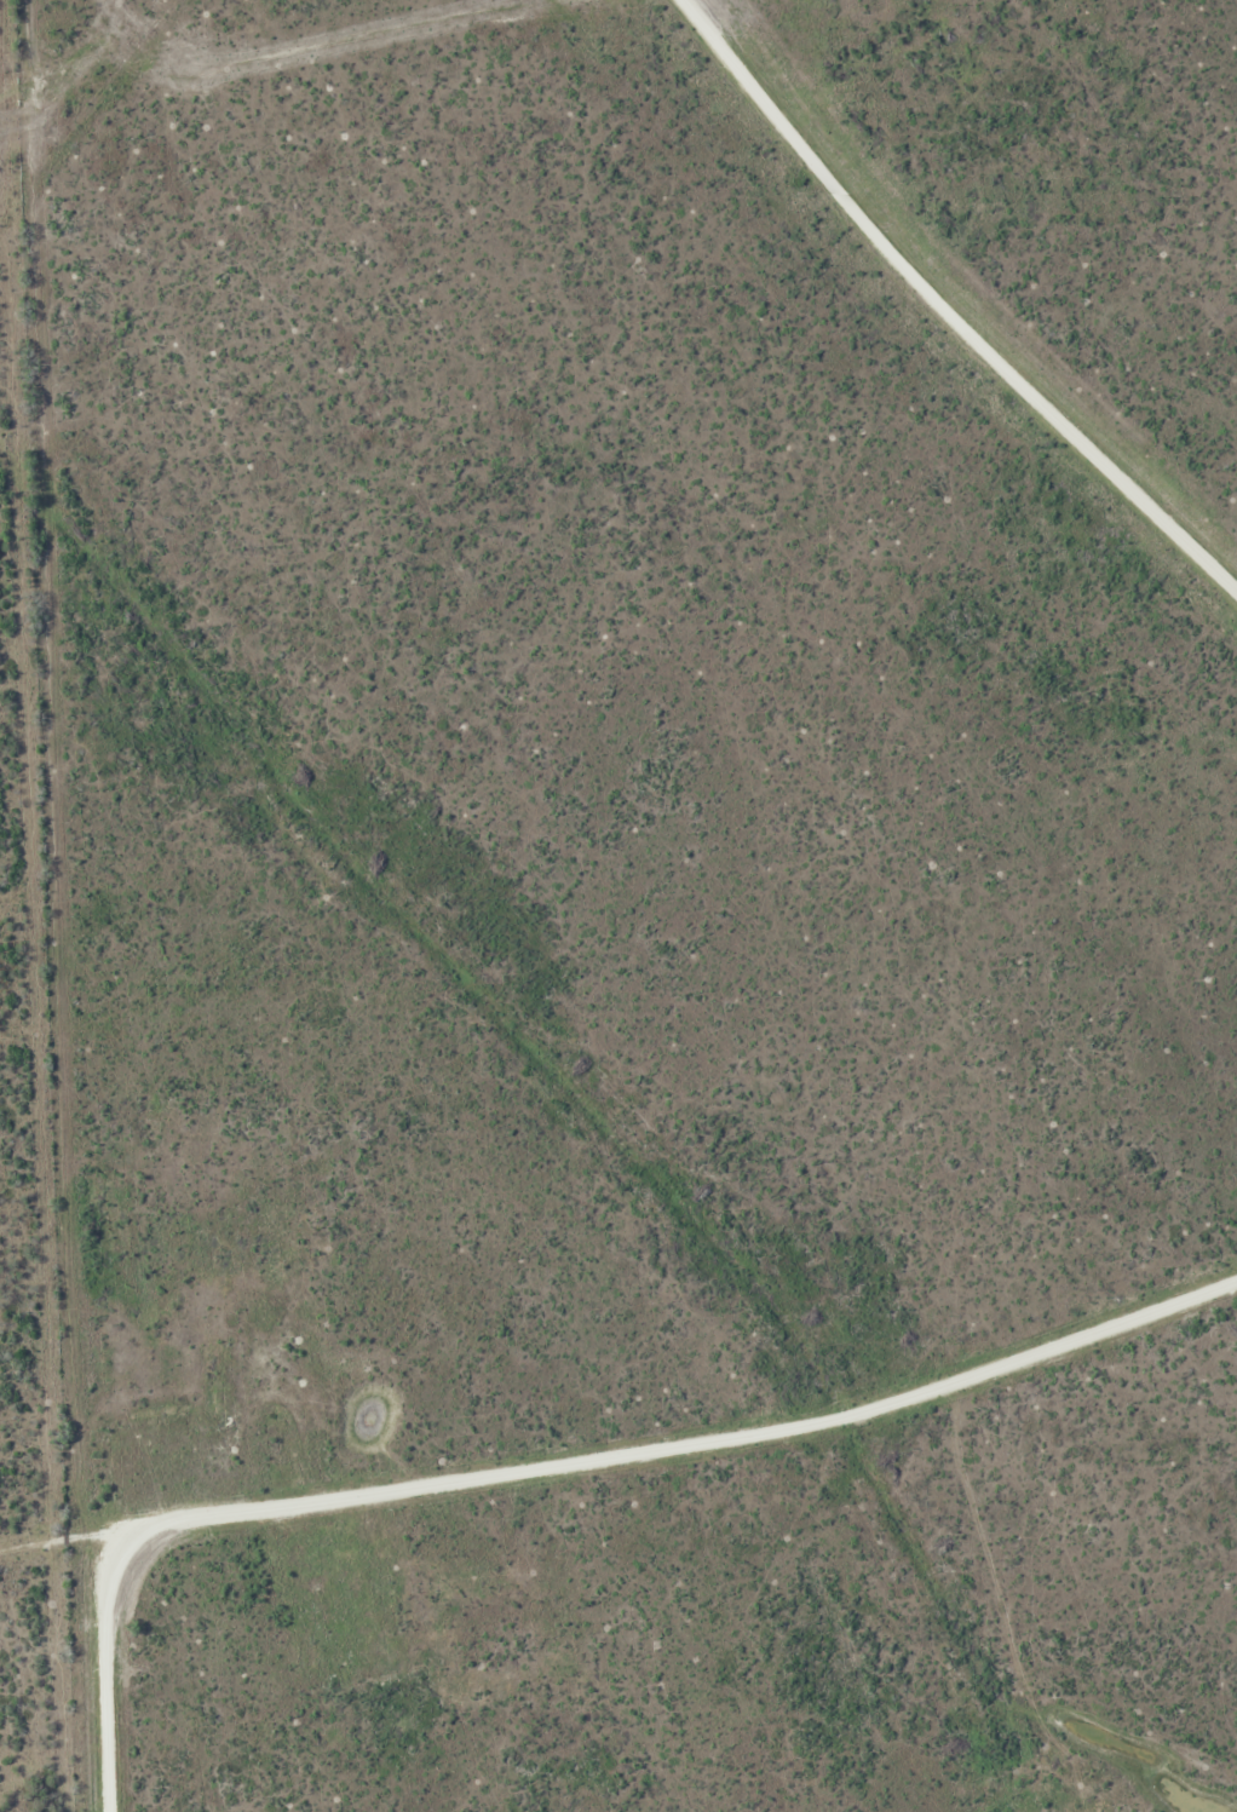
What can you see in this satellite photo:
road: (942, 309)

